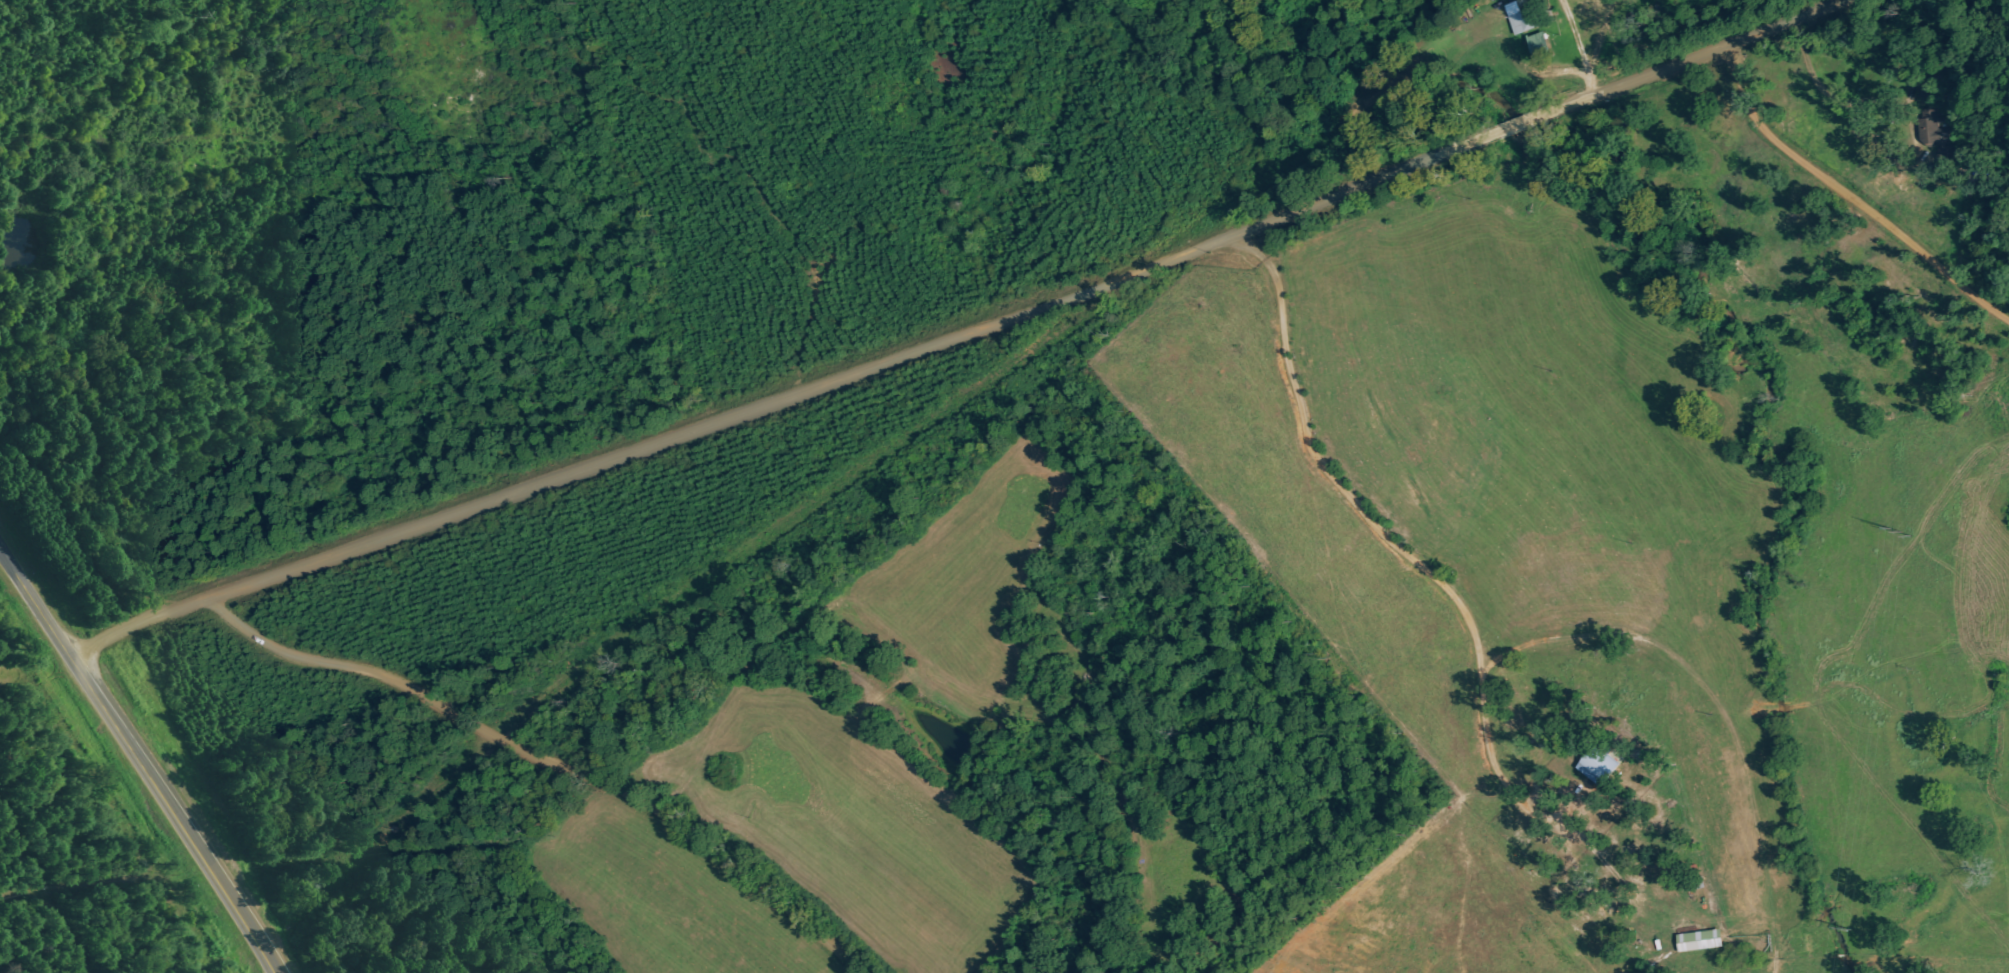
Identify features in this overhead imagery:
building: (1529, 19)
building: (1544, 46)
building: (1947, 153)
road: (990, 342)
road: (561, 751)
road: (142, 761)
building: (1604, 766)
building: (1704, 940)

